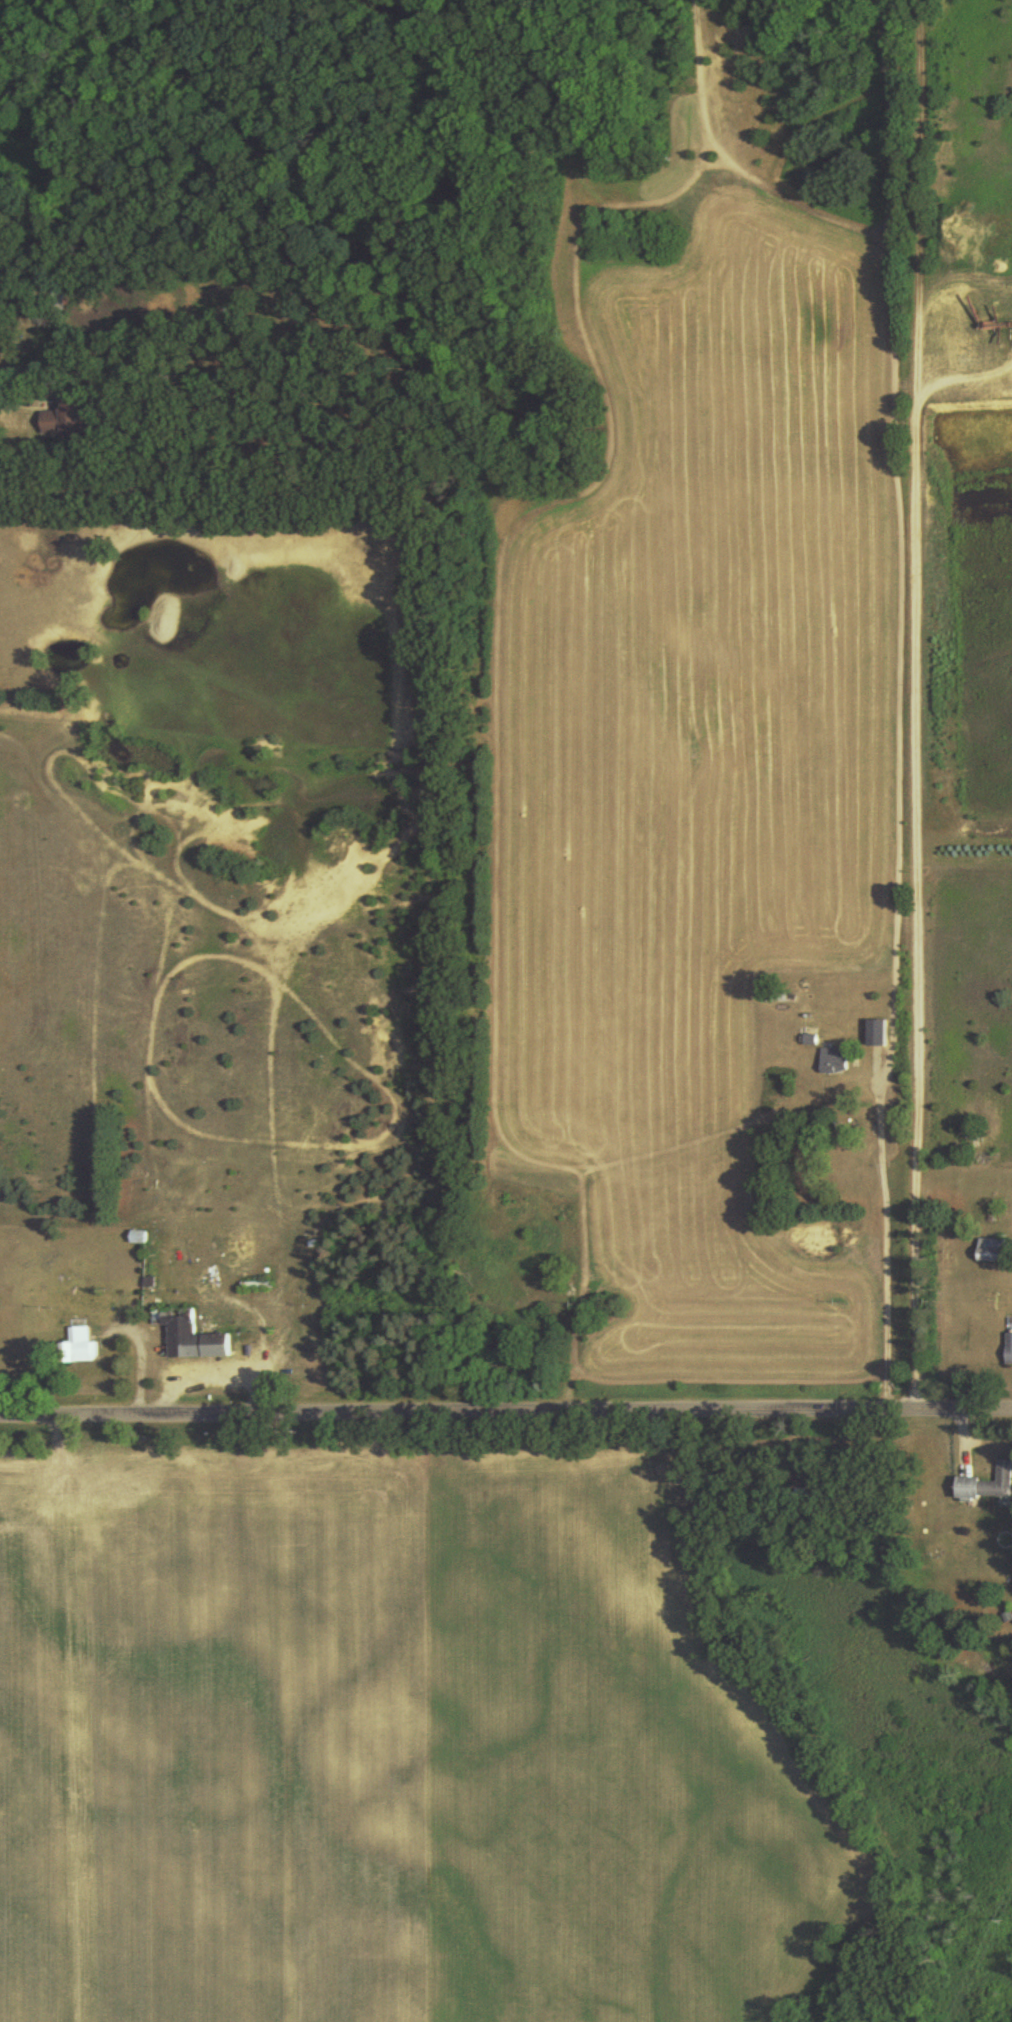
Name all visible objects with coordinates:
building: (561, 345)
building: (67, 417)
road: (909, 705)
building: (832, 1060)
building: (137, 1238)
building: (990, 1251)
building: (526, 1254)
building: (576, 1283)
building: (189, 1336)
building: (77, 1347)
road: (506, 1413)
building: (988, 1484)

